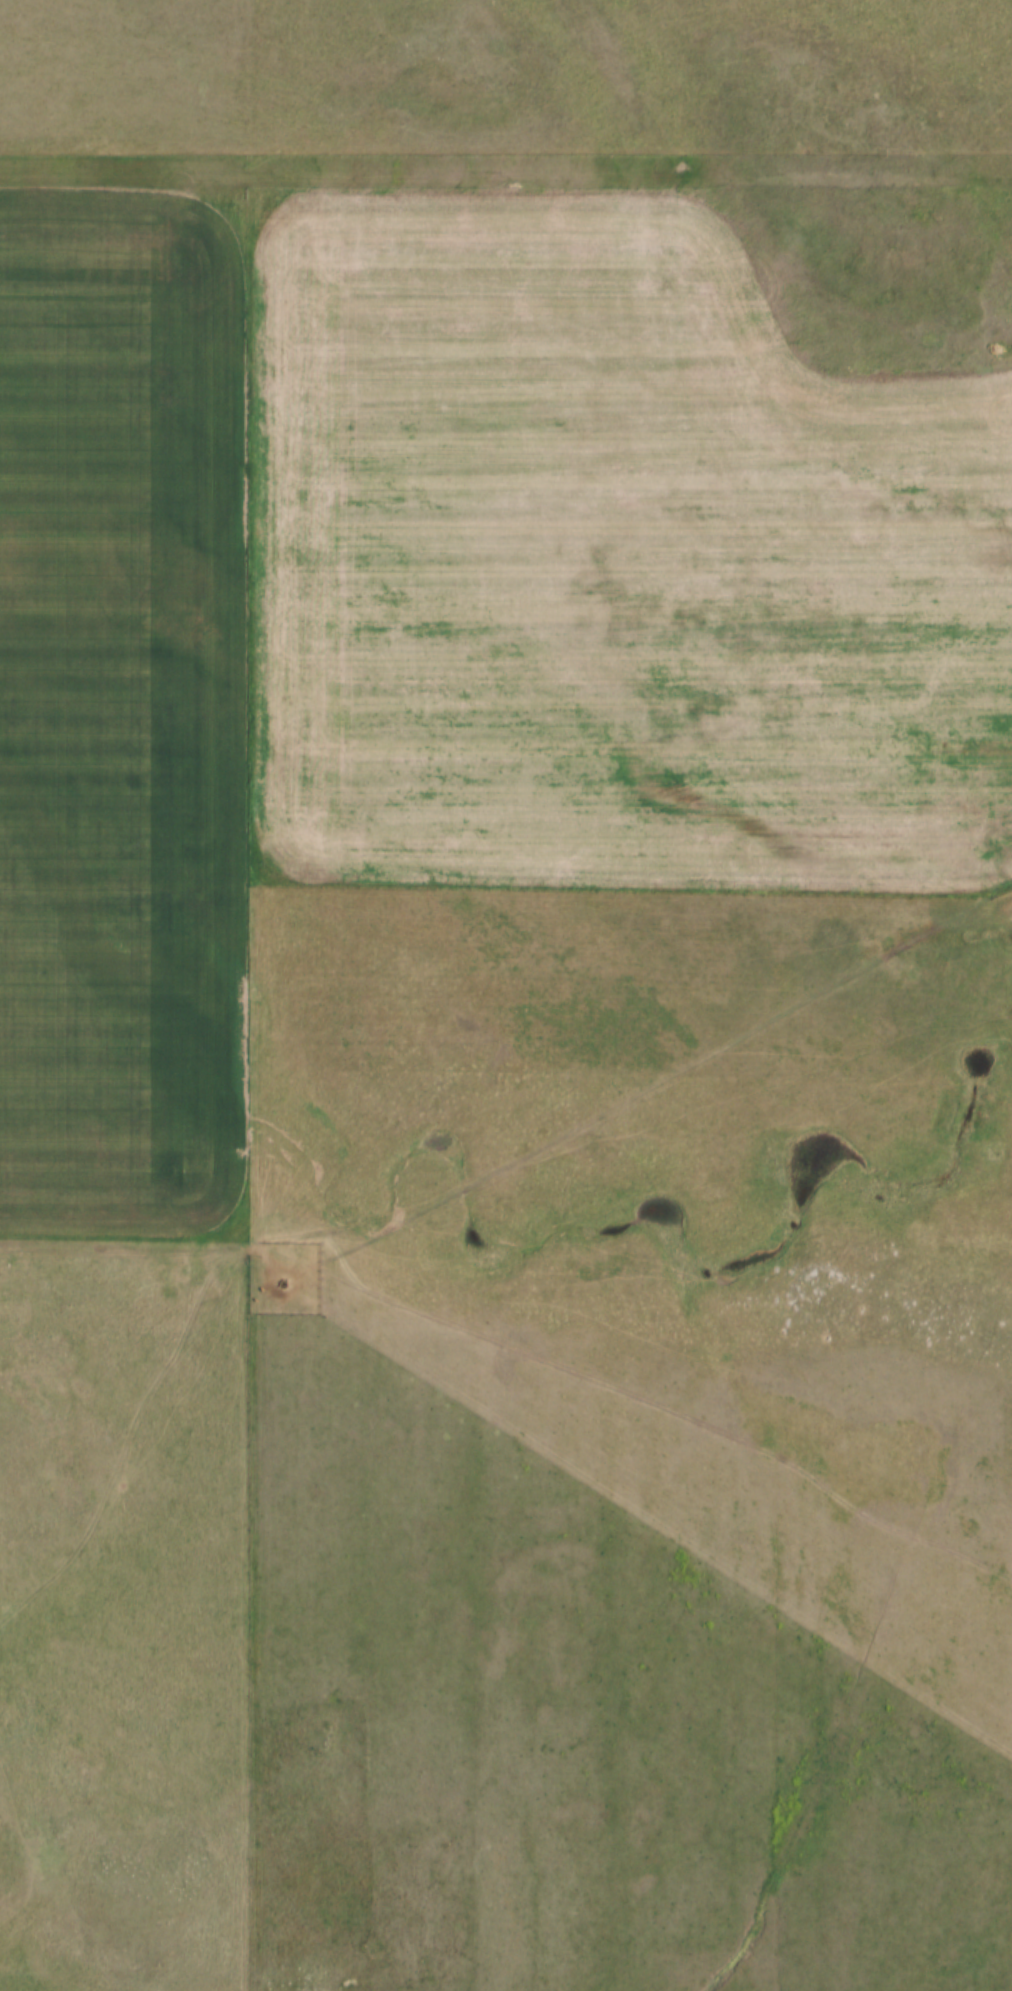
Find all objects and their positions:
road: (505, 185)

